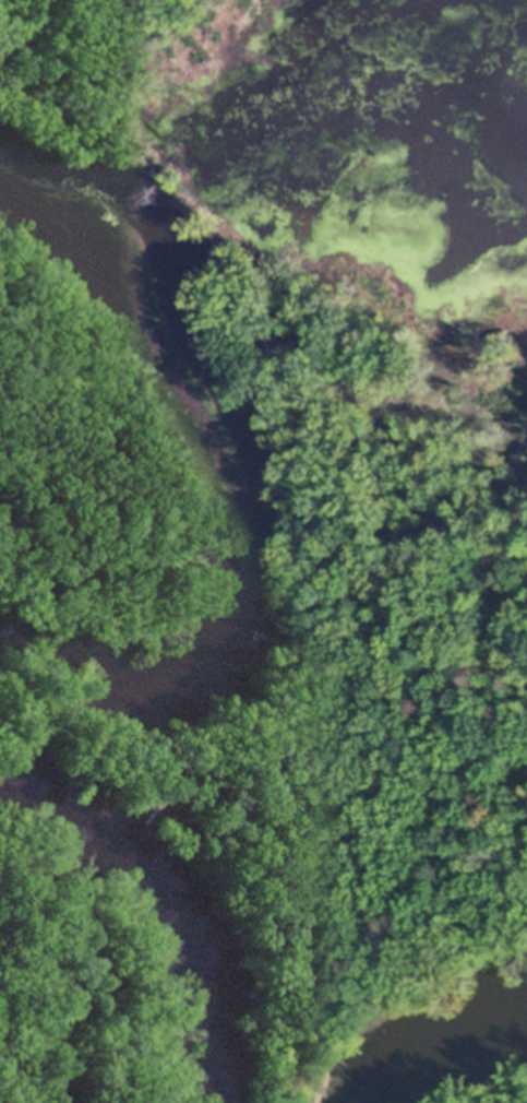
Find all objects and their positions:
building: (151, 797)
river: (157, 913)
river: (463, 1065)

